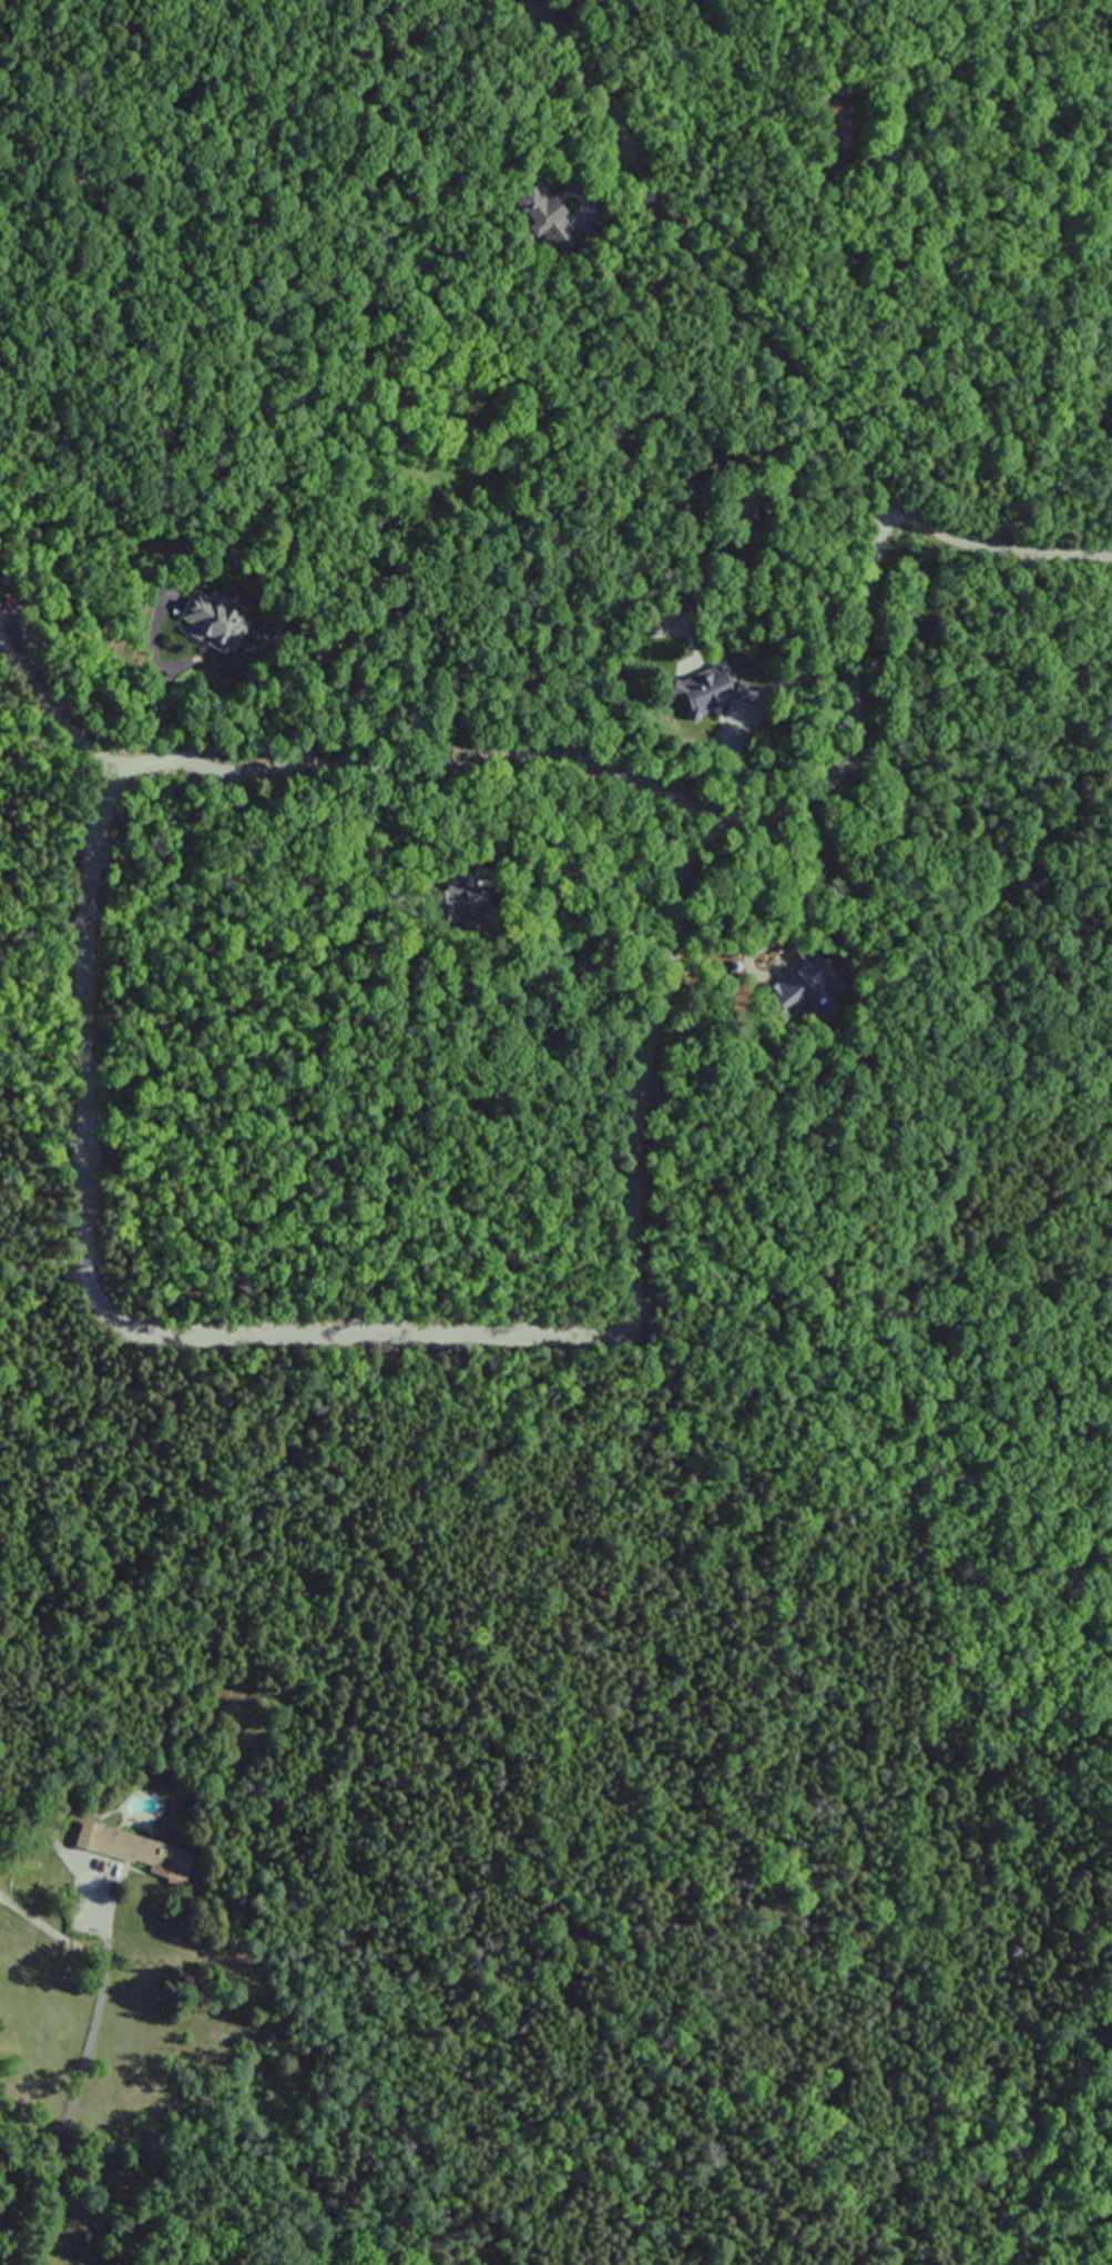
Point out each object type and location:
building: (839, 122)
building: (545, 214)
road: (771, 347)
building: (478, 475)
building: (214, 620)
building: (706, 692)
road: (603, 773)
building: (132, 1849)
road: (78, 2084)

